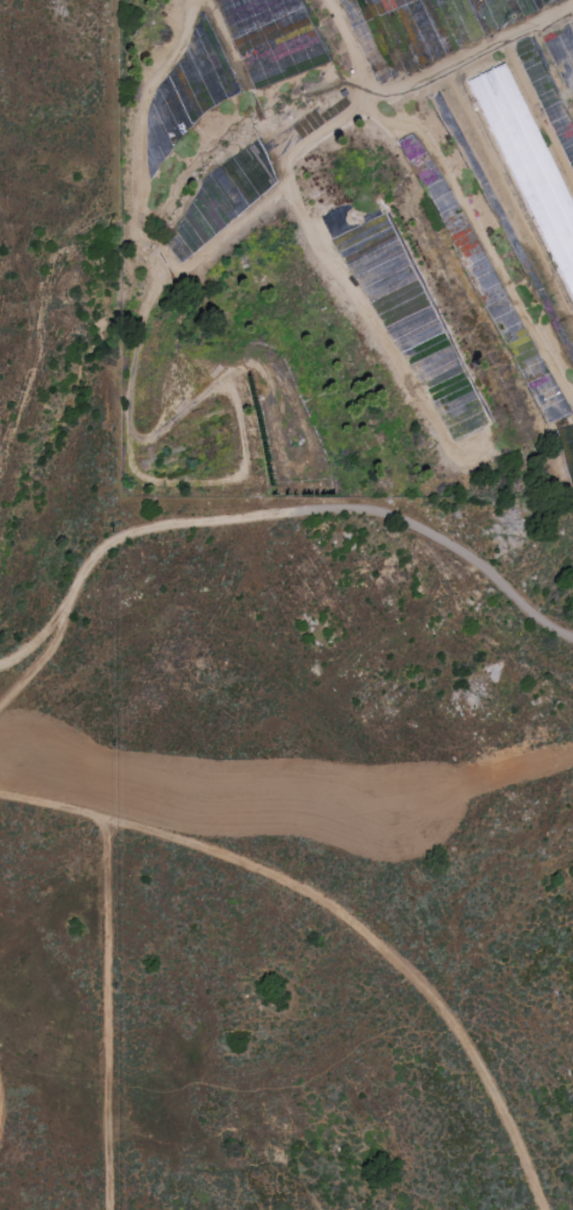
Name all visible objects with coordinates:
road: (440, 538)
road: (109, 547)

